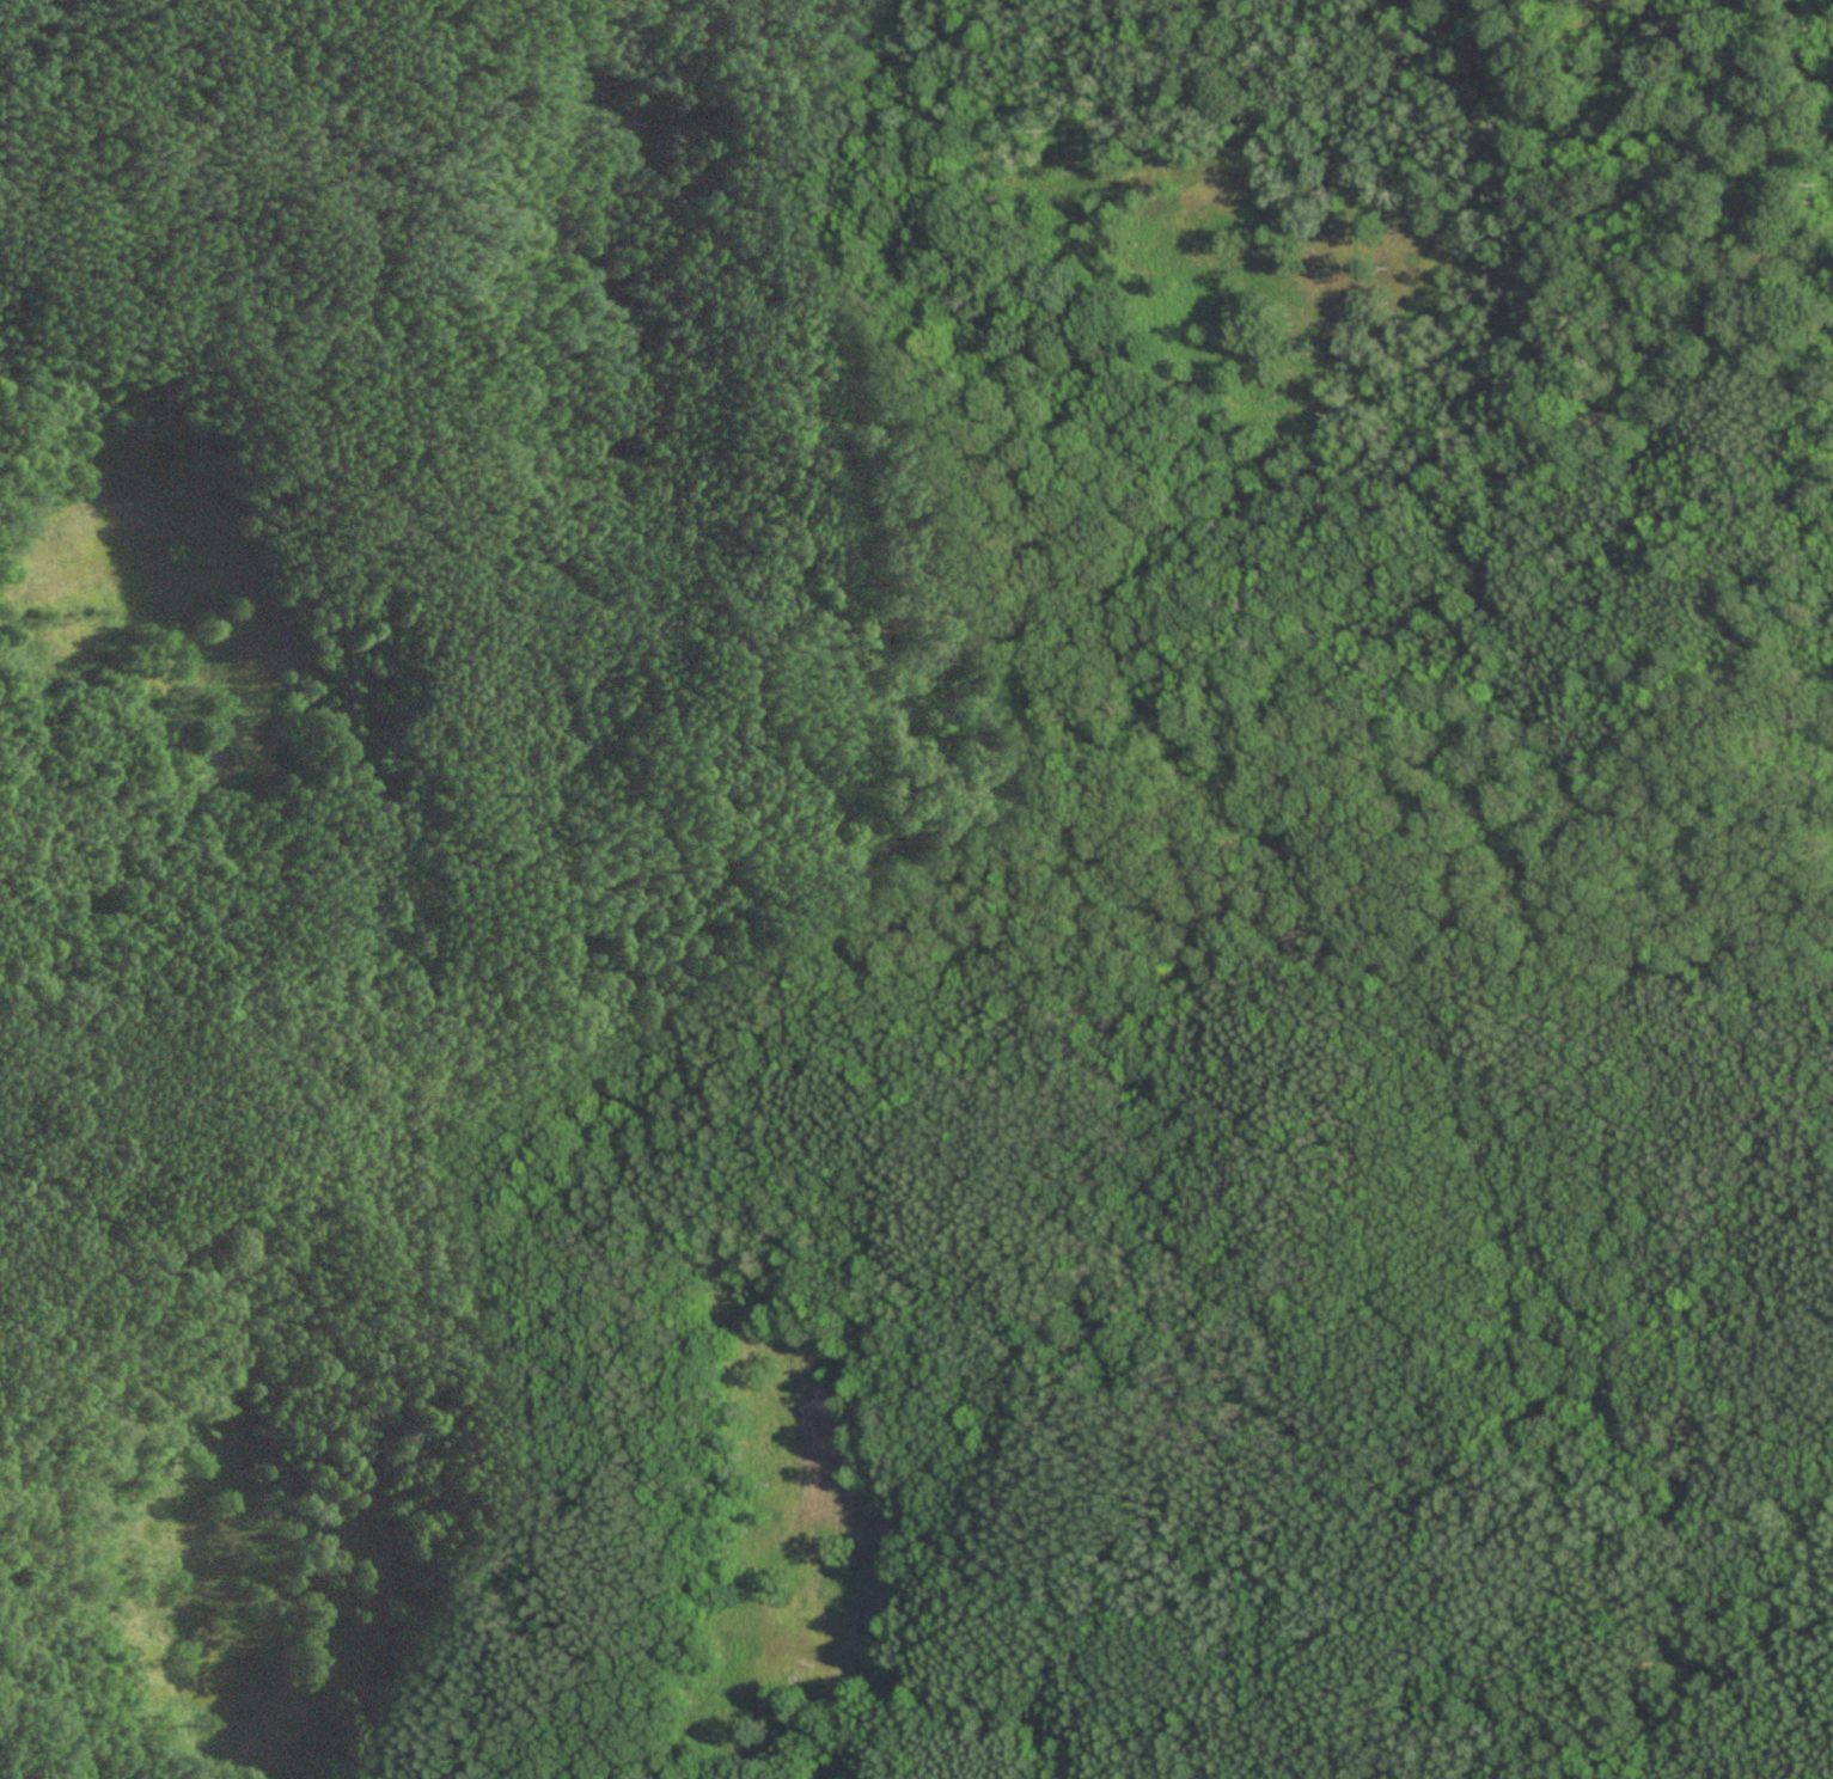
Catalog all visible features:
road: (281, 371)
road: (1627, 1669)

